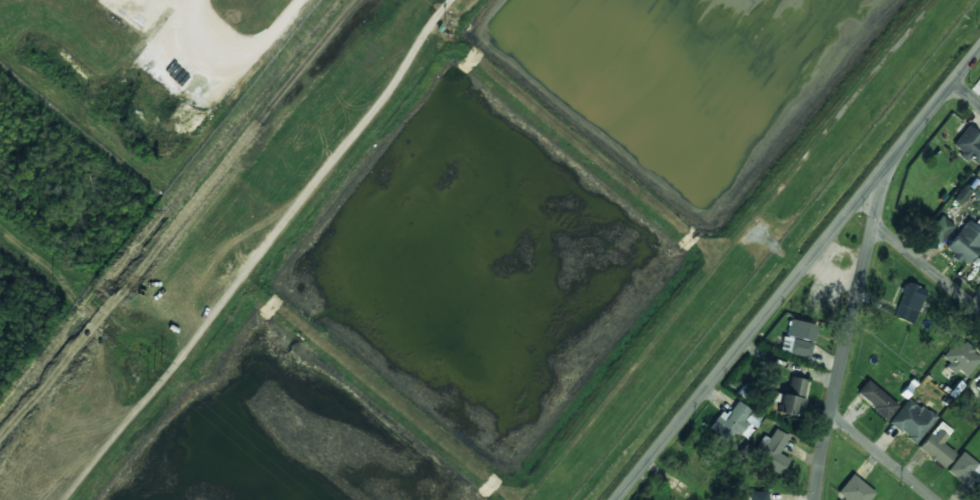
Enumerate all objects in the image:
road: (967, 83)
building: (969, 145)
building: (963, 192)
building: (940, 228)
building: (964, 243)
road: (927, 265)
road: (798, 272)
building: (908, 303)
road: (848, 330)
building: (800, 337)
building: (959, 358)
building: (978, 385)
building: (791, 397)
building: (876, 399)
building: (913, 419)
building: (734, 421)
building: (937, 445)
building: (770, 451)
road: (883, 456)
building: (965, 470)
building: (855, 490)
building: (754, 495)

